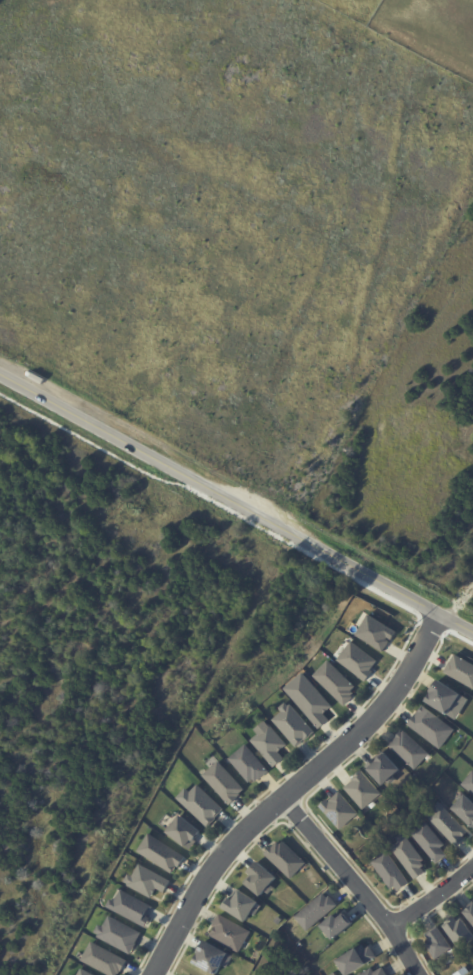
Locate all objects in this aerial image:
road: (220, 491)
road: (457, 619)
building: (375, 632)
building: (391, 648)
building: (357, 660)
building: (460, 669)
building: (337, 682)
building: (443, 695)
building: (316, 705)
road: (376, 718)
building: (294, 724)
building: (431, 727)
building: (270, 743)
building: (410, 750)
building: (250, 764)
building: (385, 768)
building: (225, 782)
building: (470, 783)
building: (361, 789)
building: (203, 804)
building: (338, 808)
building: (466, 809)
building: (450, 824)
building: (187, 831)
building: (431, 842)
building: (162, 853)
building: (411, 856)
building: (287, 859)
road: (337, 865)
building: (392, 871)
building: (262, 879)
road: (207, 880)
building: (149, 881)
road: (432, 898)
building: (244, 906)
building: (133, 908)
building: (318, 911)
building: (470, 911)
building: (279, 920)
building: (340, 925)
building: (461, 932)
building: (231, 933)
building: (120, 935)
building: (442, 944)
road: (405, 952)
building: (213, 956)
building: (106, 960)
building: (360, 960)
building: (461, 970)
building: (378, 972)
building: (86, 973)
building: (70, 974)

